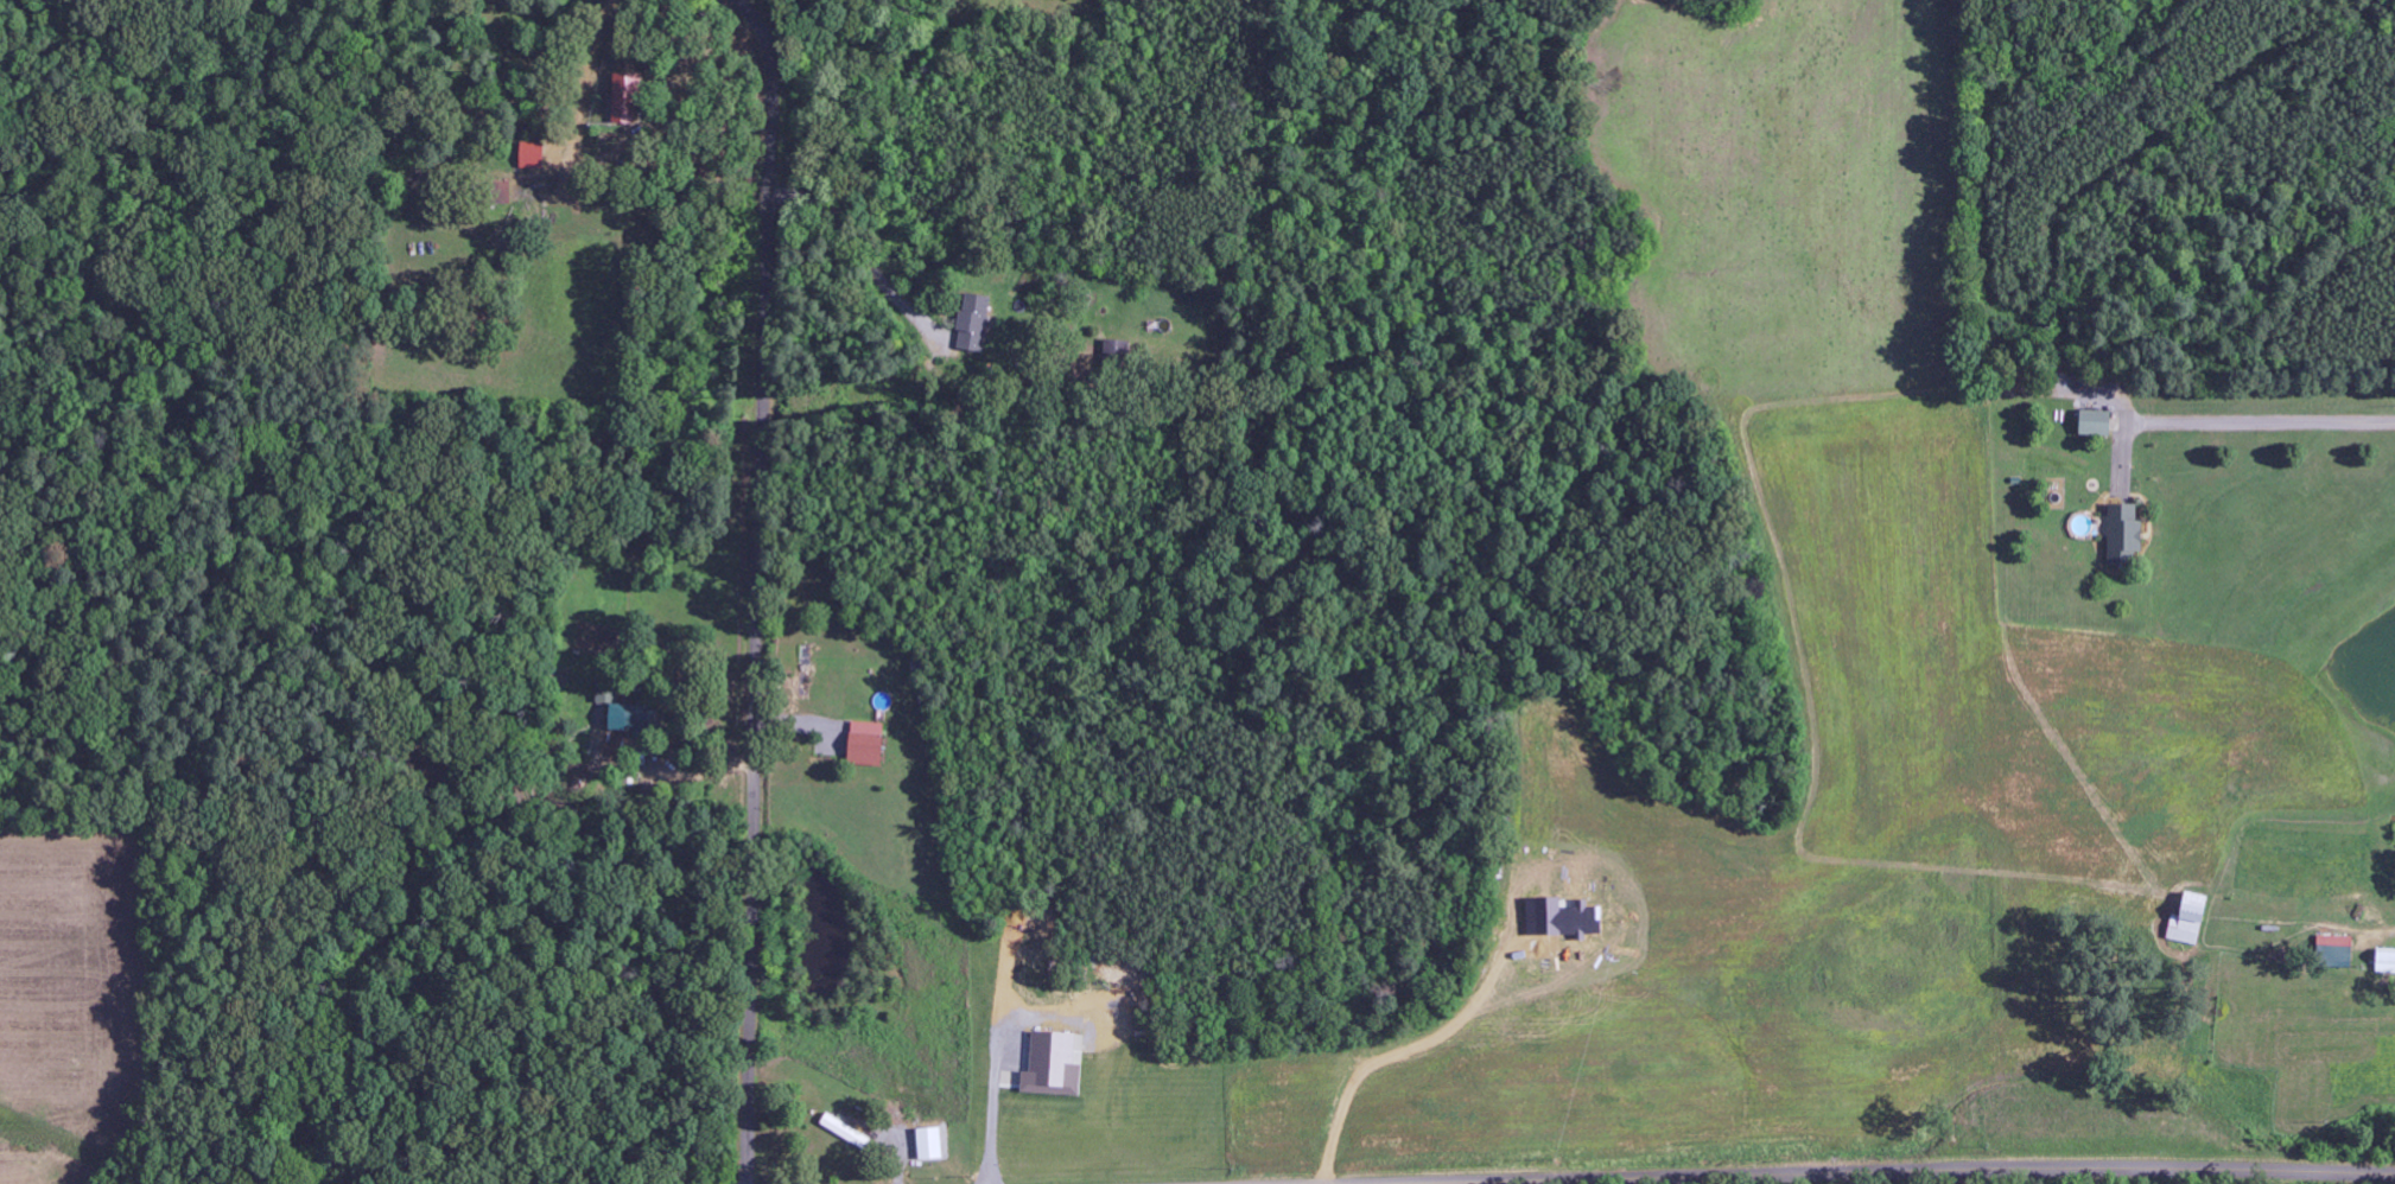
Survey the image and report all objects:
road: (509, 42)
building: (628, 97)
building: (534, 155)
building: (506, 193)
building: (976, 323)
building: (1116, 348)
building: (2098, 424)
building: (2126, 535)
road: (755, 586)
building: (608, 692)
building: (636, 719)
building: (869, 744)
building: (2192, 922)
building: (2337, 951)
building: (2386, 961)
building: (1054, 1067)
road: (592, 1112)
building: (846, 1132)
building: (932, 1145)
road: (1900, 1172)

